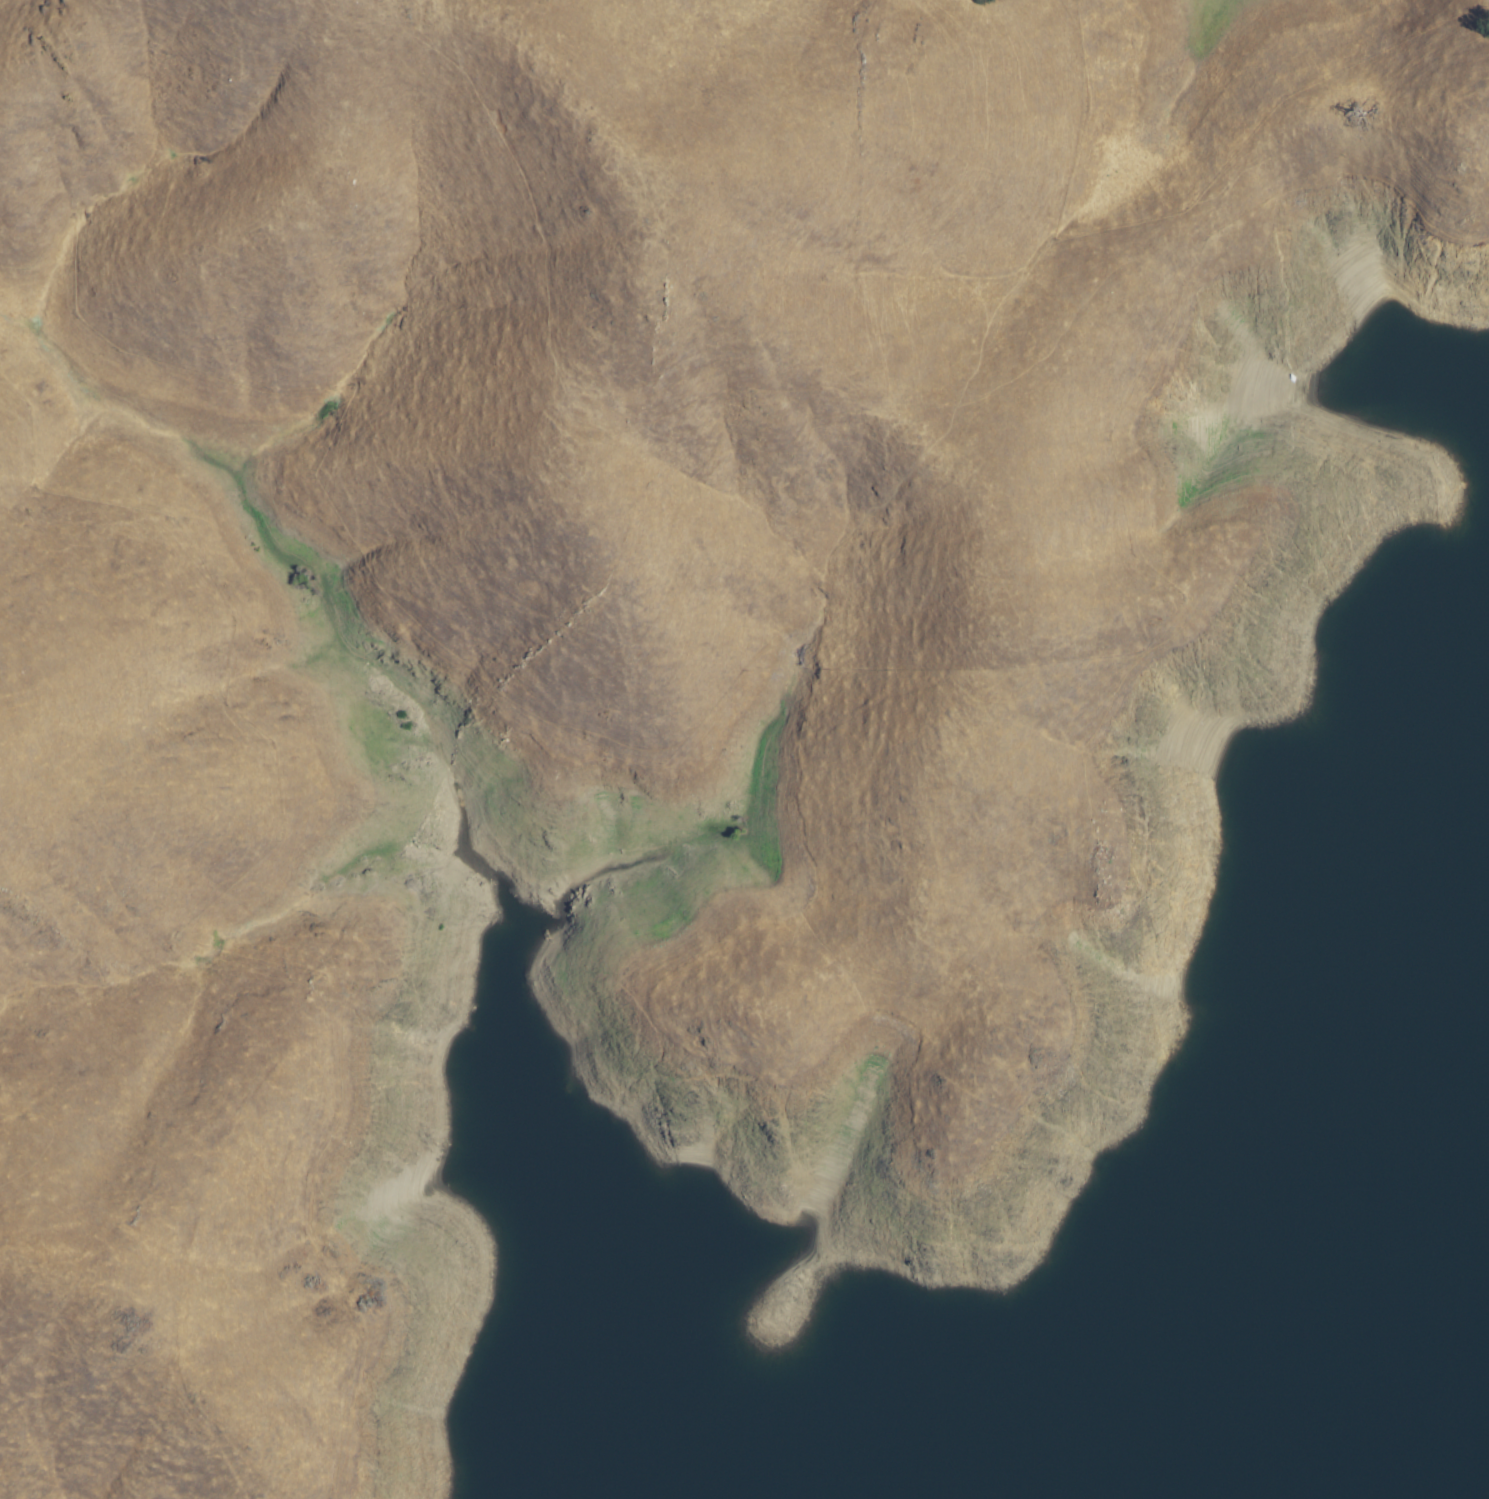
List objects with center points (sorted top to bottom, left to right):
park: (1204, 88)
park: (554, 840)

